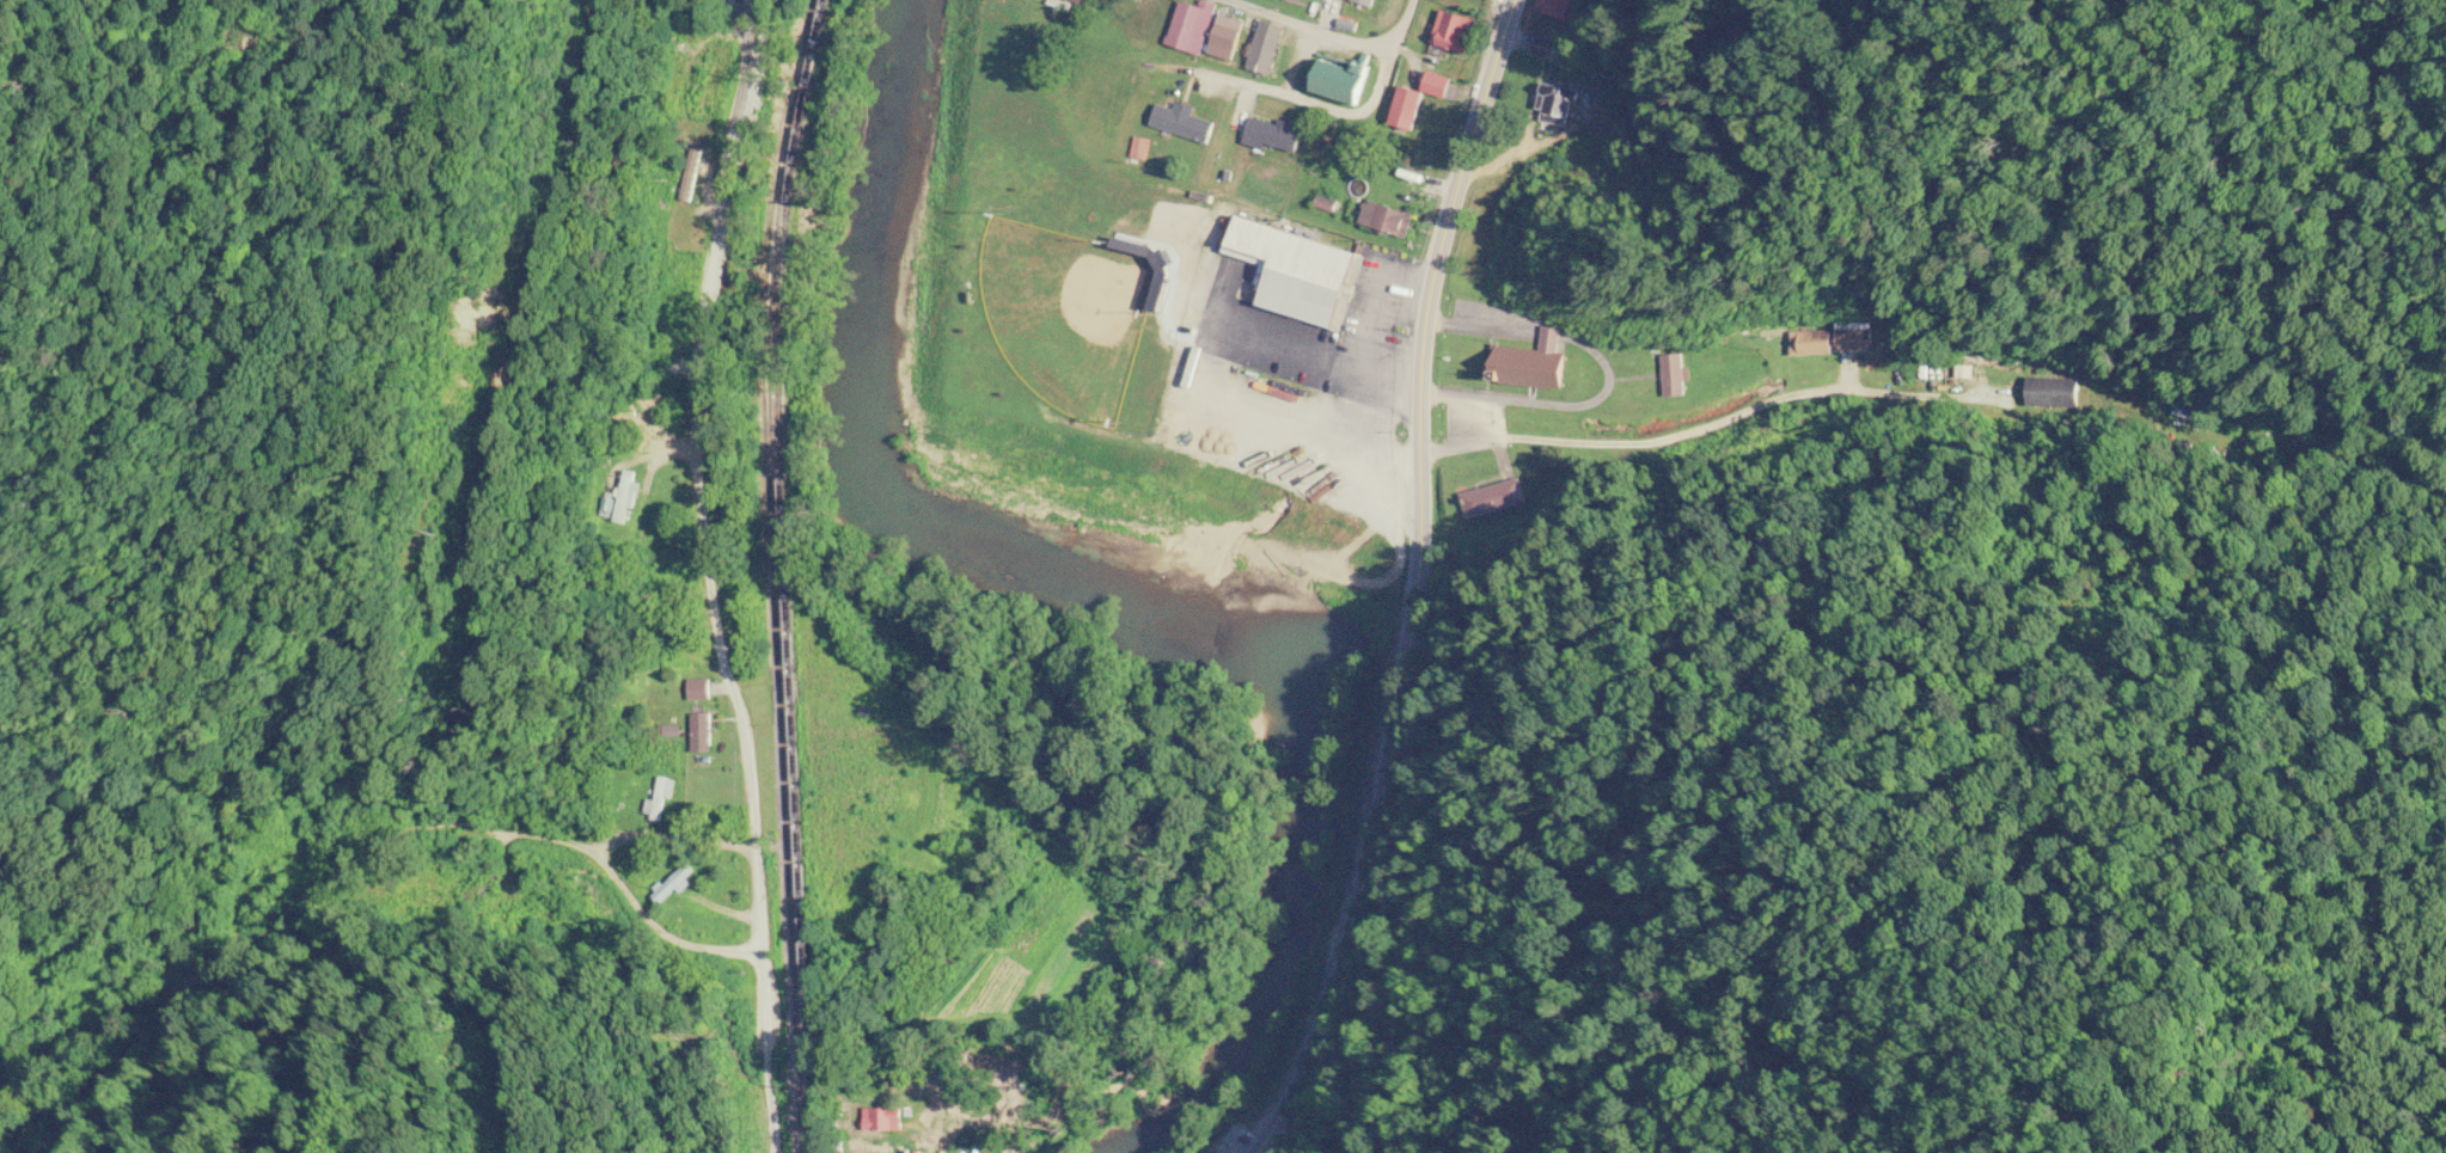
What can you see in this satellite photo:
building: (1084, 1)
building: (1365, 2)
building: (1555, 7)
building: (1331, 11)
building: (1455, 31)
road: (1323, 35)
building: (1423, 35)
building: (1228, 36)
building: (1266, 47)
building: (1547, 47)
building: (1343, 81)
building: (705, 85)
building: (1412, 97)
building: (1555, 97)
road: (1314, 104)
building: (1182, 121)
building: (1273, 134)
building: (1303, 271)
building: (1835, 341)
road: (1608, 369)
building: (1674, 375)
building: (2050, 394)
road: (1702, 427)
building: (1492, 499)
building: (623, 501)
power tower: (441, 541)
railway: (751, 572)
road: (710, 577)
road: (1414, 582)
river: (1089, 623)
building: (701, 689)
building: (702, 742)
road: (595, 858)
building: (885, 1120)

